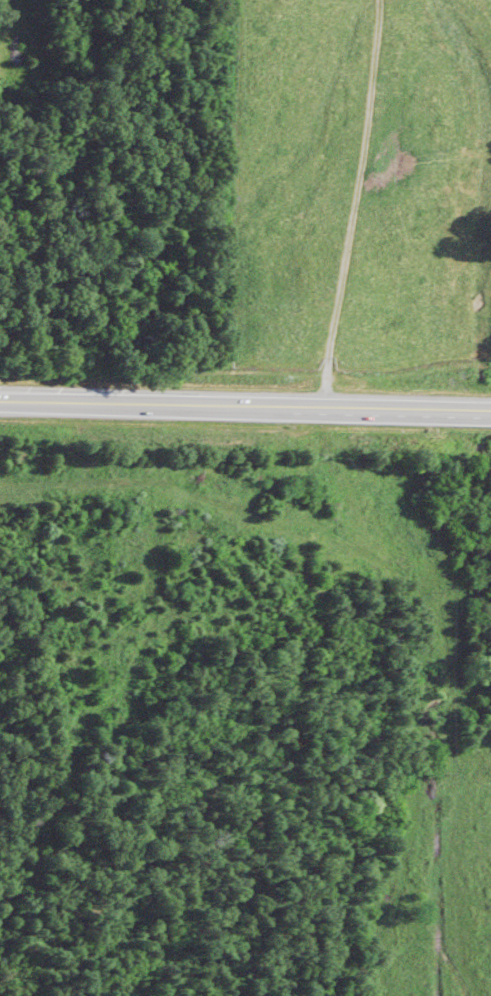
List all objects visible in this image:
road: (245, 402)

